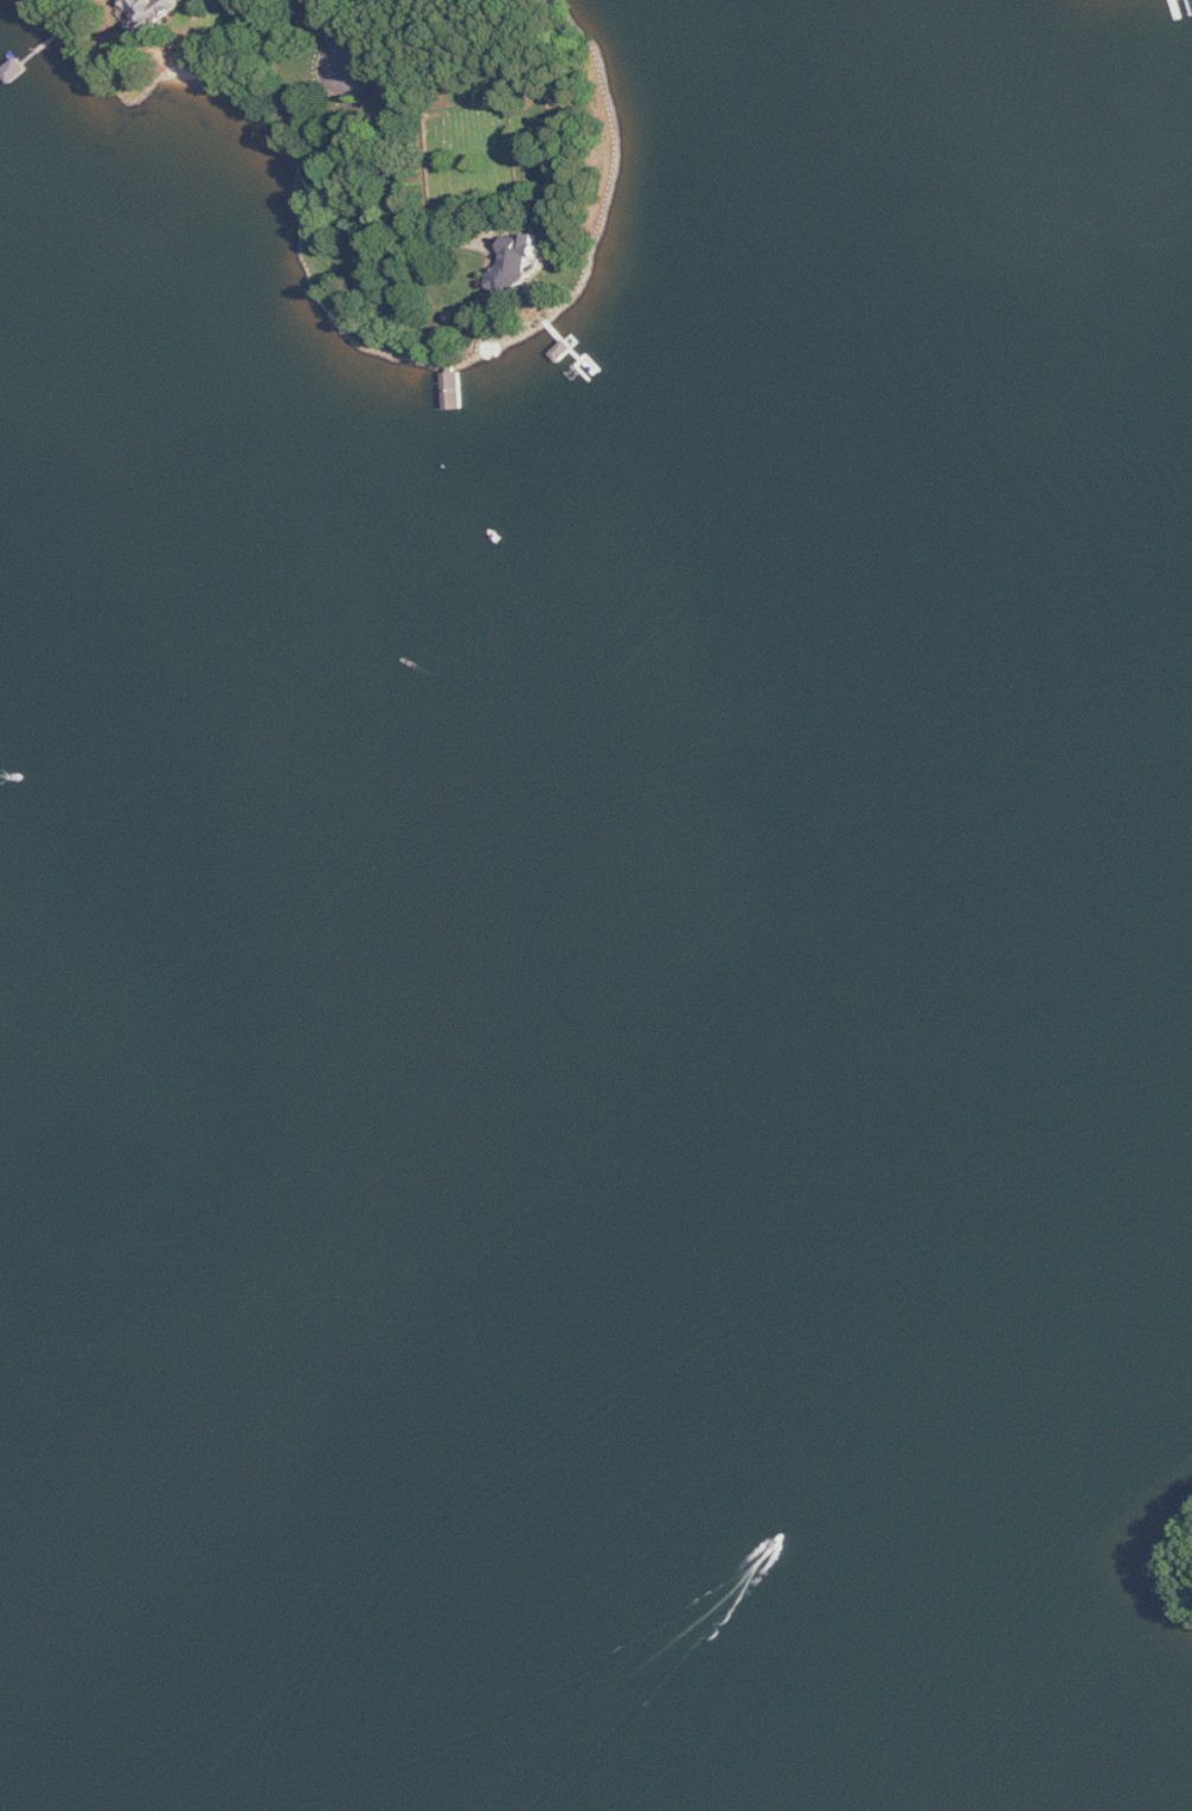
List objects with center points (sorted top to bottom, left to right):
building: (152, 12)
road: (329, 32)
park: (462, 145)
building: (517, 263)
road: (393, 301)
river: (555, 1212)

